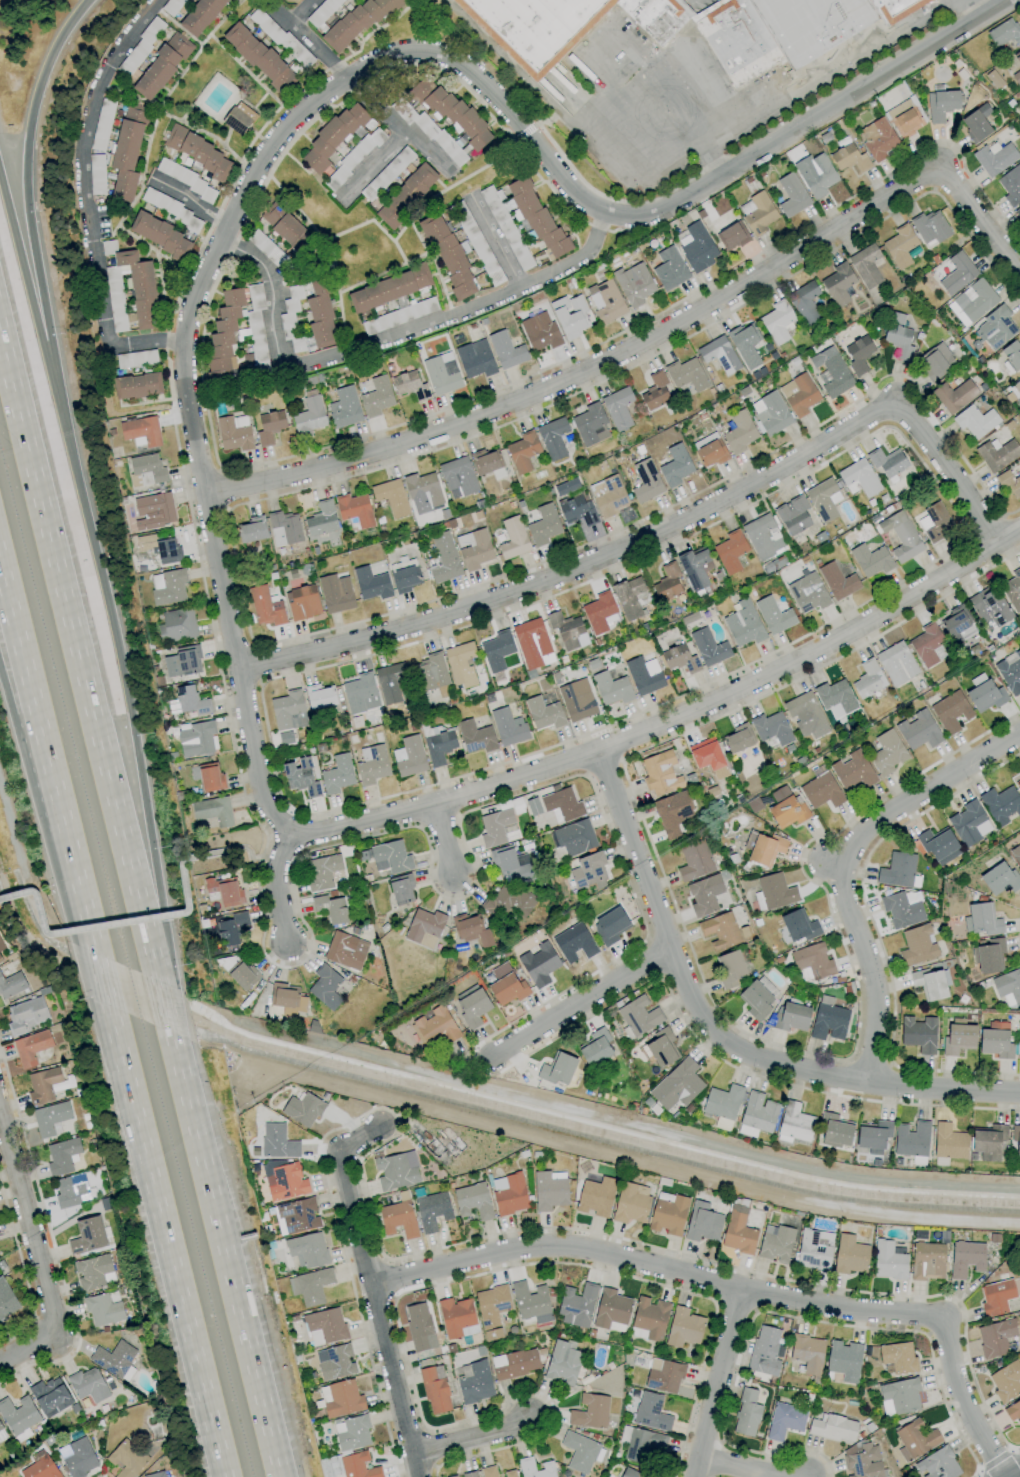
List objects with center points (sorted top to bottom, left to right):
road: (987, 4)
road: (302, 11)
building: (202, 16)
building: (355, 23)
building: (563, 25)
building: (787, 30)
road: (369, 32)
building: (1005, 32)
road: (318, 49)
building: (257, 56)
building: (1017, 57)
building: (161, 66)
road: (827, 70)
building: (1016, 77)
road: (331, 90)
road: (671, 92)
building: (940, 103)
building: (238, 118)
building: (904, 118)
building: (976, 123)
road: (396, 124)
road: (537, 124)
road: (526, 131)
building: (331, 137)
building: (878, 138)
road: (754, 139)
road: (515, 140)
building: (127, 151)
building: (199, 153)
building: (994, 157)
building: (849, 158)
road: (712, 159)
road: (372, 166)
building: (819, 176)
building: (1010, 185)
road: (24, 191)
building: (406, 195)
building: (791, 195)
road: (86, 197)
road: (190, 202)
road: (606, 205)
building: (1018, 211)
building: (757, 212)
building: (284, 226)
building: (930, 227)
building: (506, 228)
building: (729, 234)
building: (160, 235)
building: (476, 243)
building: (900, 246)
road: (498, 247)
building: (696, 247)
building: (448, 255)
building: (865, 266)
building: (669, 269)
building: (957, 273)
building: (633, 284)
building: (838, 284)
building: (139, 288)
building: (389, 289)
road: (26, 291)
building: (605, 301)
building: (972, 302)
building: (804, 303)
building: (320, 314)
building: (569, 315)
building: (777, 321)
building: (995, 328)
building: (224, 329)
building: (539, 331)
building: (897, 336)
road: (650, 340)
building: (745, 345)
road: (386, 346)
building: (506, 350)
building: (719, 354)
building: (858, 354)
building: (1011, 355)
building: (475, 359)
building: (935, 360)
building: (831, 372)
building: (441, 373)
building: (687, 374)
building: (218, 375)
building: (409, 385)
building: (137, 386)
building: (1016, 386)
building: (654, 391)
building: (798, 394)
building: (953, 395)
building: (376, 397)
building: (344, 407)
building: (618, 408)
road: (173, 409)
building: (771, 413)
building: (309, 415)
building: (975, 420)
building: (590, 425)
building: (269, 427)
building: (141, 431)
building: (739, 431)
building: (234, 432)
building: (552, 438)
building: (709, 449)
building: (522, 451)
building: (996, 454)
road: (292, 455)
building: (885, 461)
building: (674, 465)
building: (148, 467)
building: (859, 476)
building: (458, 477)
building: (645, 481)
building: (1008, 482)
building: (565, 487)
road: (228, 489)
building: (423, 493)
building: (608, 494)
building: (391, 497)
building: (822, 499)
building: (576, 508)
building: (354, 509)
building: (153, 511)
building: (792, 514)
building: (321, 519)
building: (934, 521)
building: (543, 524)
road: (984, 526)
building: (284, 528)
building: (252, 530)
road: (659, 536)
building: (762, 536)
building: (900, 536)
building: (512, 538)
building: (473, 548)
building: (730, 550)
building: (167, 551)
road: (949, 553)
building: (443, 557)
building: (870, 560)
building: (141, 561)
building: (773, 564)
building: (695, 568)
road: (236, 569)
building: (406, 578)
building: (837, 581)
building: (370, 583)
building: (667, 583)
building: (167, 587)
building: (1012, 590)
building: (335, 592)
building: (807, 593)
building: (629, 597)
building: (302, 602)
building: (266, 606)
building: (600, 613)
building: (774, 614)
building: (743, 623)
building: (957, 624)
building: (176, 625)
road: (77, 629)
building: (567, 630)
building: (532, 643)
building: (926, 644)
building: (708, 647)
building: (496, 650)
building: (679, 659)
road: (119, 660)
building: (182, 661)
road: (257, 663)
building: (896, 663)
building: (460, 664)
building: (430, 672)
building: (1010, 672)
building: (643, 675)
building: (868, 679)
building: (389, 683)
building: (611, 688)
building: (360, 693)
building: (984, 694)
building: (319, 697)
building: (835, 698)
building: (190, 700)
building: (576, 700)
road: (26, 710)
building: (951, 712)
building: (543, 713)
building: (806, 714)
building: (287, 715)
road: (671, 723)
building: (508, 727)
building: (771, 728)
building: (918, 730)
building: (475, 737)
building: (196, 738)
building: (738, 738)
building: (439, 747)
road: (25, 749)
building: (887, 753)
building: (409, 756)
building: (708, 757)
building: (371, 765)
building: (852, 772)
building: (660, 773)
building: (336, 774)
building: (207, 777)
building: (300, 777)
building: (1018, 785)
building: (821, 789)
building: (562, 804)
building: (1001, 805)
building: (532, 807)
building: (786, 809)
building: (212, 811)
building: (672, 813)
road: (438, 822)
building: (969, 823)
building: (494, 827)
building: (574, 837)
road: (449, 844)
building: (939, 846)
building: (764, 848)
road: (225, 850)
building: (1016, 855)
building: (390, 857)
building: (694, 861)
road: (843, 867)
building: (588, 871)
building: (898, 871)
building: (322, 872)
building: (1000, 879)
building: (509, 885)
road: (279, 887)
building: (401, 890)
building: (224, 891)
building: (773, 892)
building: (704, 895)
road: (633, 896)
building: (330, 909)
building: (902, 909)
building: (981, 920)
road: (105, 924)
building: (610, 926)
building: (798, 926)
building: (423, 928)
building: (231, 929)
building: (471, 930)
building: (720, 931)
road: (874, 931)
building: (574, 939)
building: (2, 946)
building: (917, 946)
building: (345, 950)
building: (987, 956)
road: (653, 958)
building: (0, 960)
building: (812, 961)
building: (539, 964)
building: (730, 968)
road: (699, 972)
building: (243, 975)
building: (931, 983)
building: (11, 984)
building: (506, 985)
building: (325, 987)
building: (1008, 987)
building: (756, 998)
building: (287, 999)
road: (580, 1001)
building: (471, 1005)
building: (26, 1015)
building: (639, 1015)
building: (790, 1017)
building: (828, 1020)
building: (435, 1026)
building: (918, 1034)
building: (958, 1037)
road: (716, 1039)
building: (995, 1043)
building: (32, 1047)
building: (596, 1048)
building: (661, 1048)
road: (872, 1053)
building: (558, 1069)
building: (63, 1084)
building: (43, 1085)
building: (676, 1085)
building: (722, 1102)
building: (302, 1109)
building: (758, 1112)
building: (51, 1119)
road: (622, 1122)
building: (794, 1124)
building: (835, 1130)
building: (873, 1137)
building: (911, 1140)
building: (1016, 1141)
building: (277, 1142)
building: (949, 1142)
building: (989, 1143)
road: (137, 1154)
building: (63, 1156)
road: (651, 1167)
building: (396, 1171)
building: (284, 1182)
building: (72, 1191)
building: (548, 1191)
building: (509, 1194)
building: (595, 1196)
building: (472, 1201)
road: (219, 1203)
building: (631, 1203)
building: (431, 1211)
building: (667, 1213)
building: (296, 1216)
building: (398, 1219)
building: (702, 1222)
road: (27, 1225)
building: (737, 1231)
building: (87, 1236)
road: (51, 1242)
road: (460, 1243)
building: (775, 1243)
building: (306, 1250)
building: (814, 1250)
road: (555, 1252)
building: (849, 1255)
building: (965, 1258)
building: (888, 1261)
building: (927, 1261)
building: (2, 1264)
road: (23, 1270)
building: (93, 1272)
road: (389, 1280)
road: (434, 1285)
building: (310, 1286)
road: (371, 1288)
building: (996, 1297)
building: (6, 1301)
building: (531, 1303)
building: (576, 1305)
road: (736, 1307)
building: (611, 1308)
building: (104, 1310)
building: (491, 1310)
road: (789, 1316)
road: (926, 1317)
building: (457, 1318)
building: (650, 1318)
building: (325, 1324)
building: (418, 1326)
building: (683, 1327)
building: (995, 1337)
road: (27, 1347)
building: (765, 1351)
building: (807, 1353)
building: (898, 1357)
building: (114, 1359)
building: (844, 1360)
building: (335, 1362)
building: (563, 1362)
building: (514, 1364)
building: (663, 1376)
building: (1005, 1381)
building: (474, 1382)
road: (720, 1384)
building: (89, 1385)
building: (434, 1390)
building: (898, 1396)
building: (51, 1397)
building: (340, 1398)
building: (590, 1411)
building: (1012, 1411)
building: (650, 1412)
building: (746, 1413)
building: (19, 1414)
building: (784, 1420)
building: (1, 1426)
building: (833, 1428)
building: (351, 1433)
building: (2, 1436)
road: (468, 1438)
building: (49, 1440)
building: (914, 1440)
building: (643, 1446)
road: (430, 1448)
building: (580, 1453)
building: (80, 1458)
building: (128, 1459)
road: (719, 1459)
road: (998, 1459)
building: (861, 1461)
building: (937, 1464)
building: (350, 1465)
building: (40, 1467)
road: (751, 1467)
building: (535, 1468)
building: (488, 1471)
building: (156, 1474)
building: (509, 1474)
building: (629, 1474)
building: (466, 1475)

